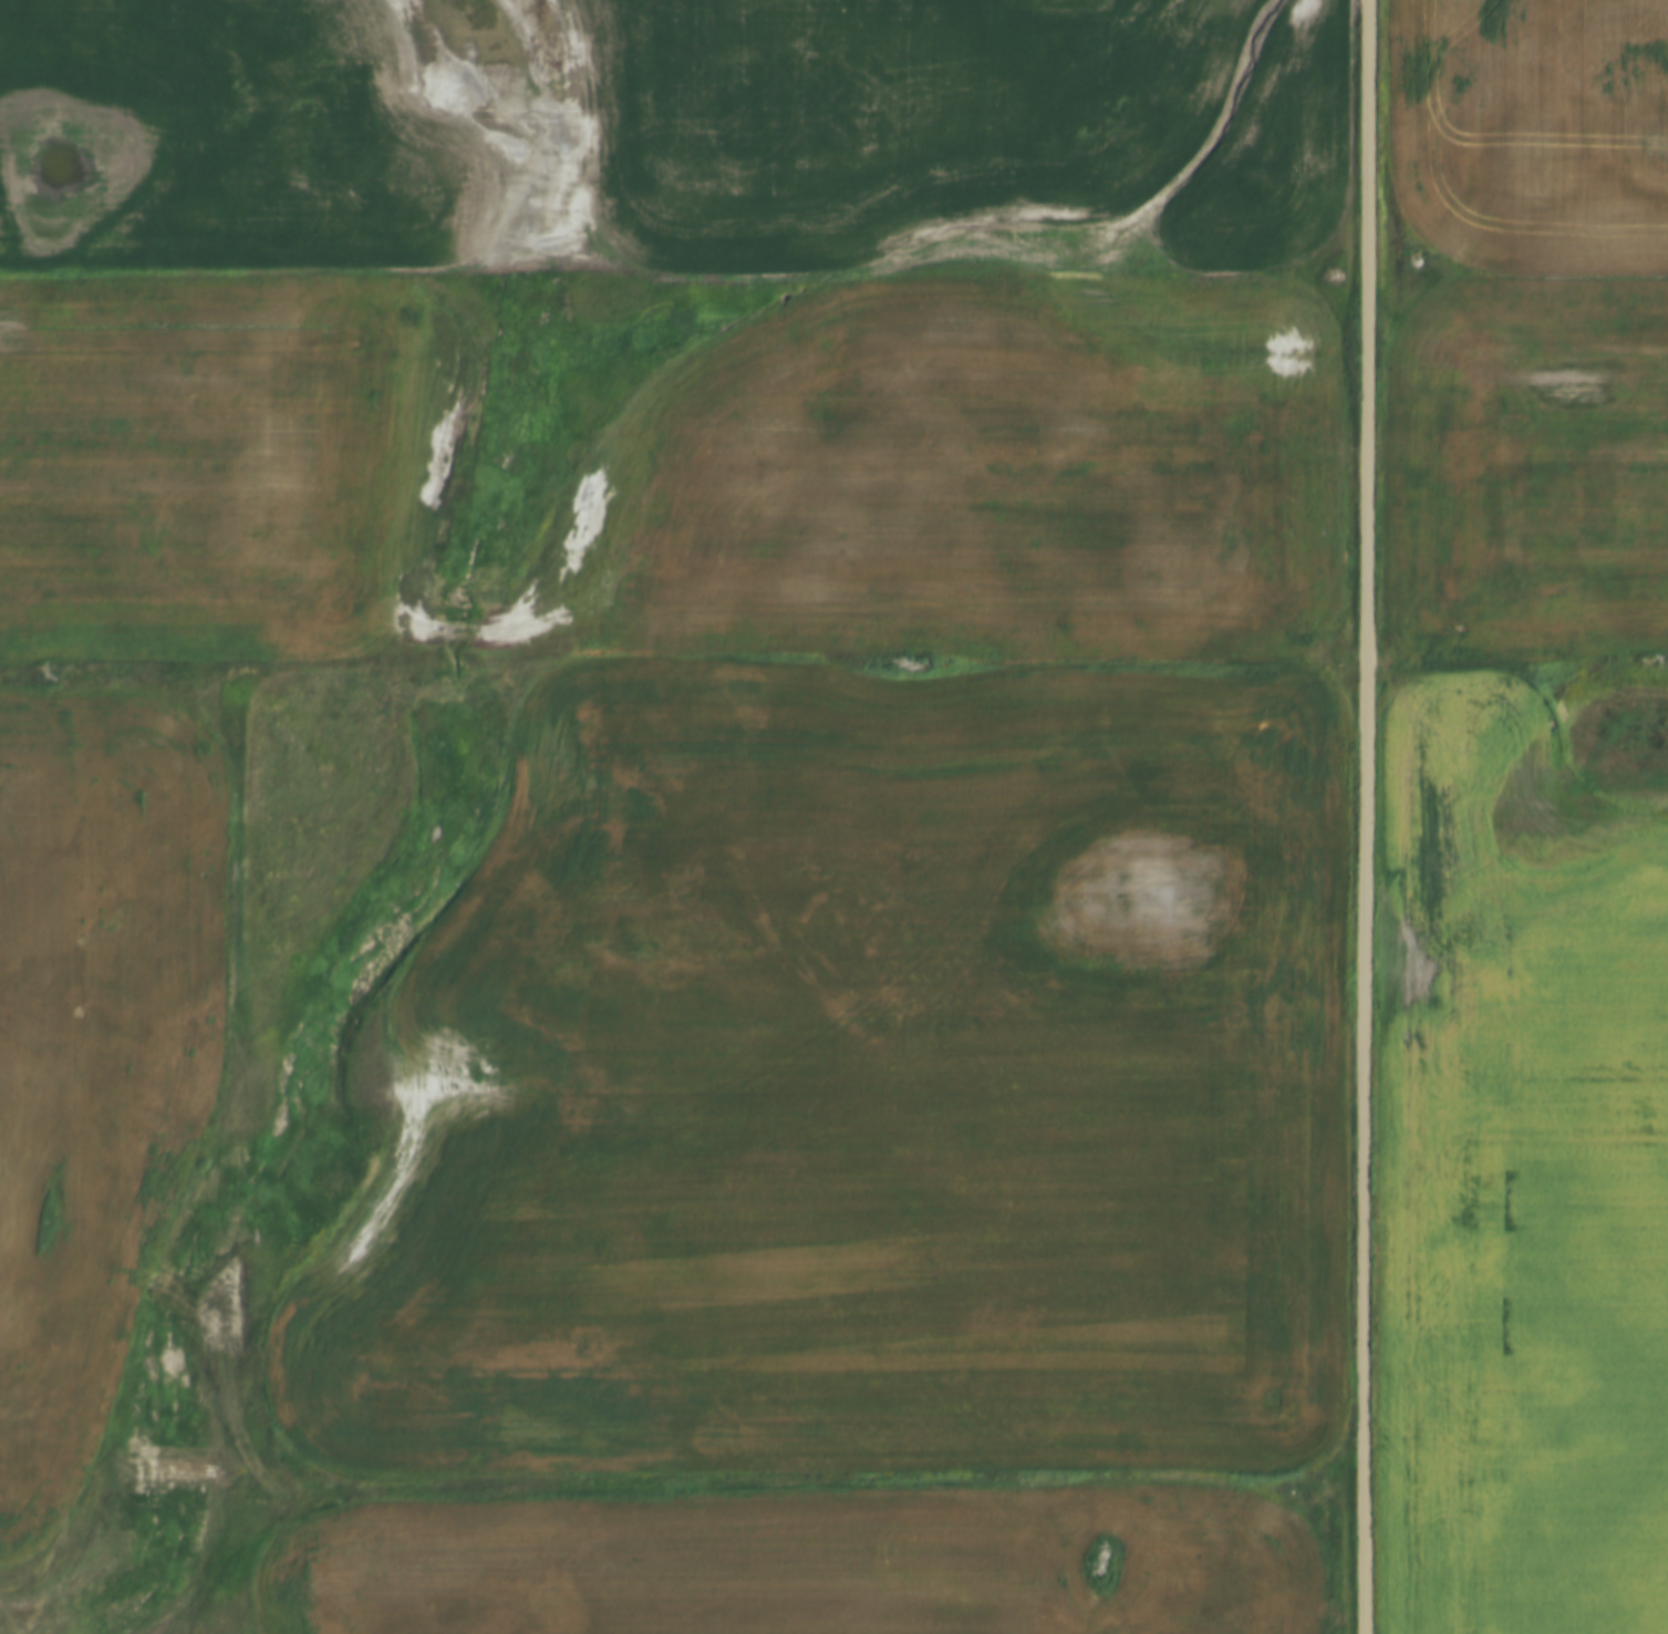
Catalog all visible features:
road: (1364, 817)

